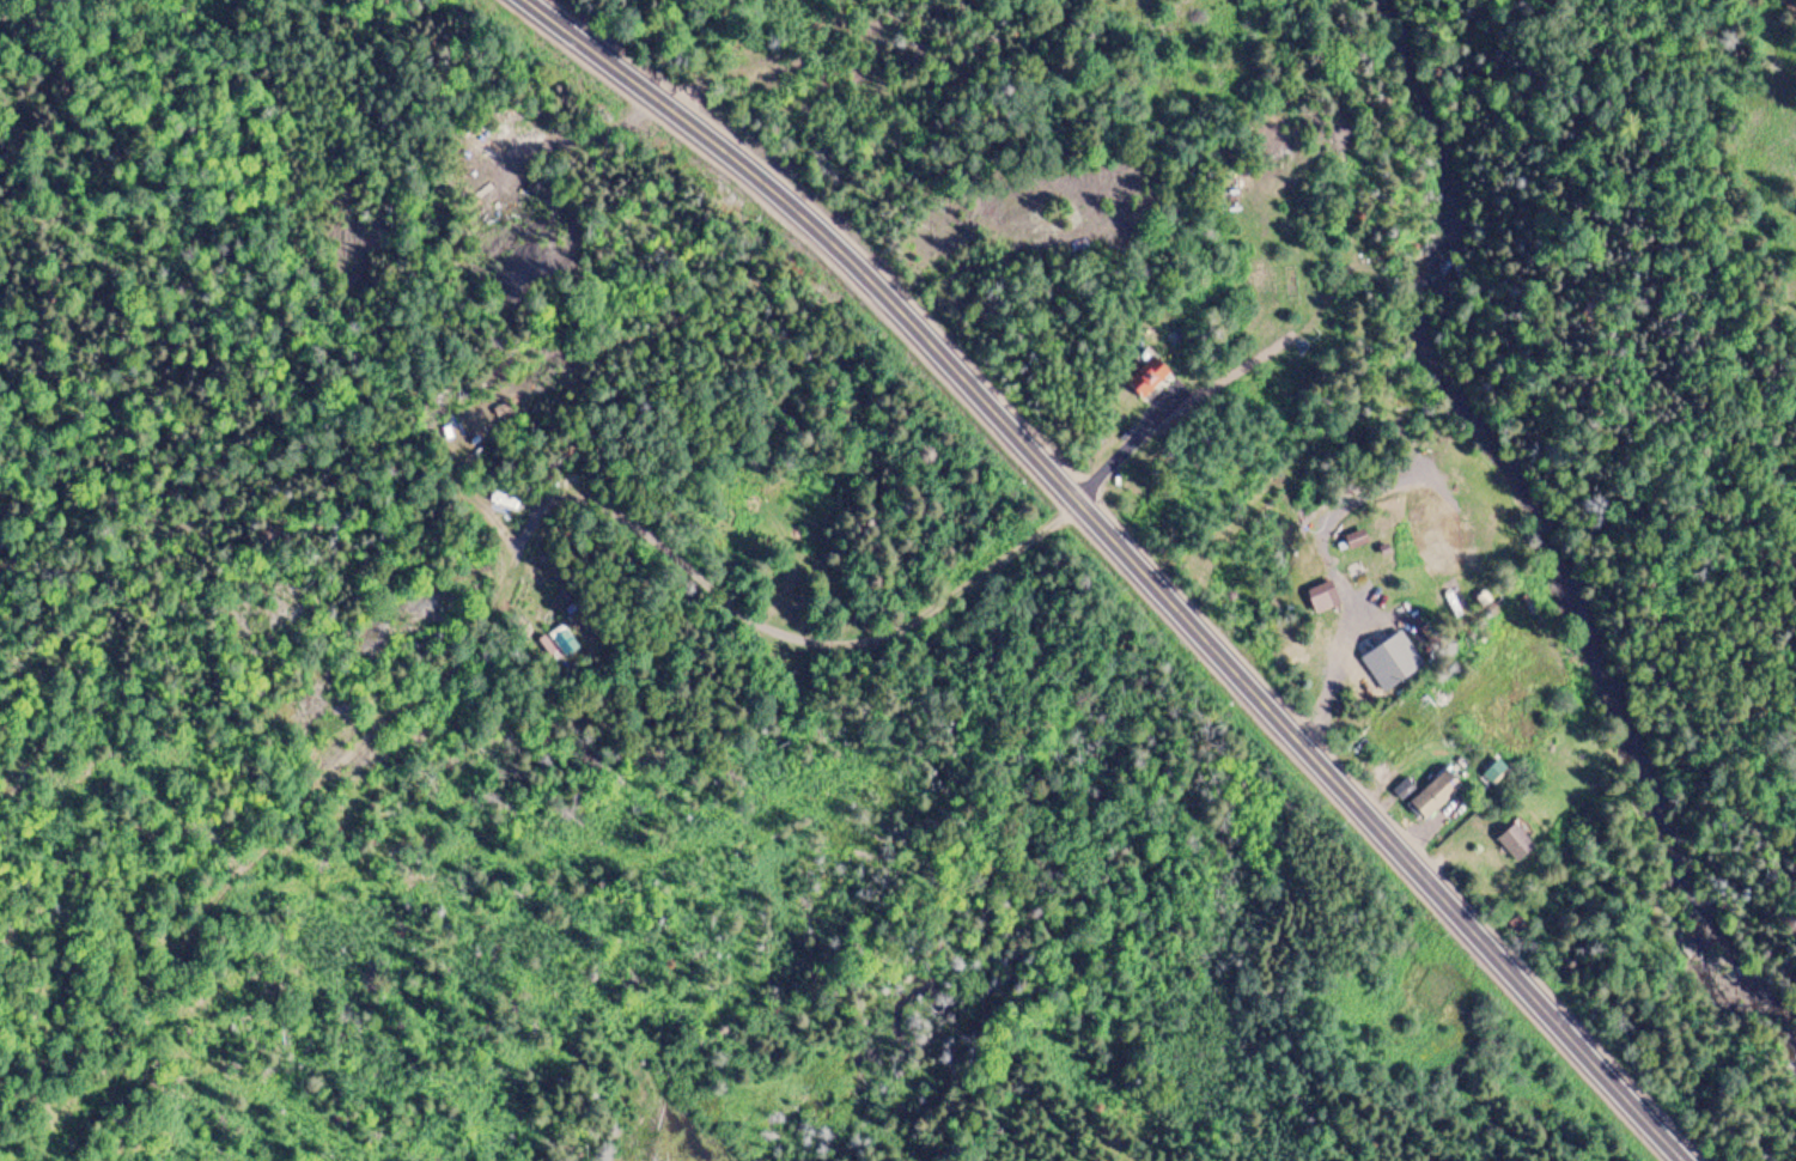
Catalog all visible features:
river: (1467, 172)
building: (1149, 378)
building: (1356, 539)
road: (1127, 557)
building: (1321, 596)
building: (1392, 661)
river: (1645, 670)
building: (1429, 798)
building: (1516, 843)

